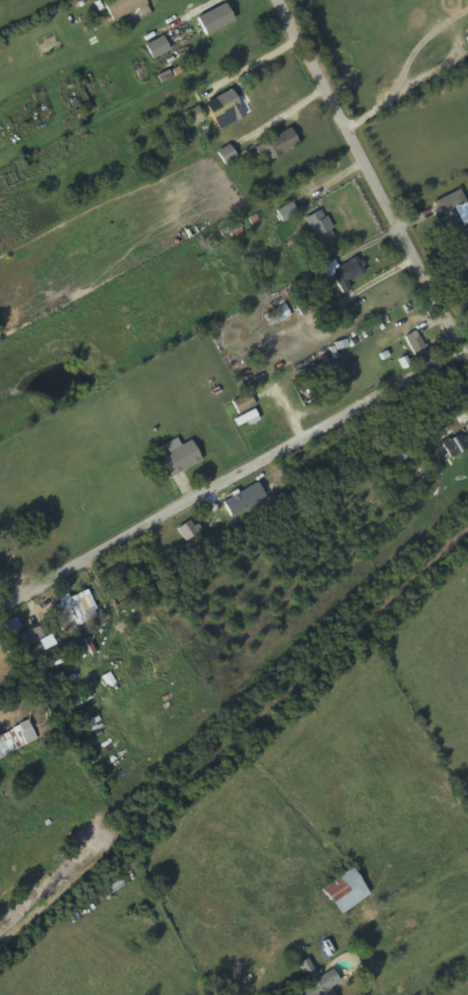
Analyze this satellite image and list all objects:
building: (124, 9)
building: (214, 20)
building: (156, 48)
building: (104, 61)
building: (225, 107)
building: (276, 146)
building: (226, 155)
road: (372, 177)
building: (286, 213)
building: (453, 214)
building: (319, 227)
building: (416, 346)
building: (242, 404)
building: (455, 446)
building: (178, 457)
road: (232, 479)
building: (243, 500)
building: (188, 532)
building: (78, 603)
building: (3, 673)
railway: (234, 733)
building: (114, 887)
building: (345, 892)
building: (315, 981)

